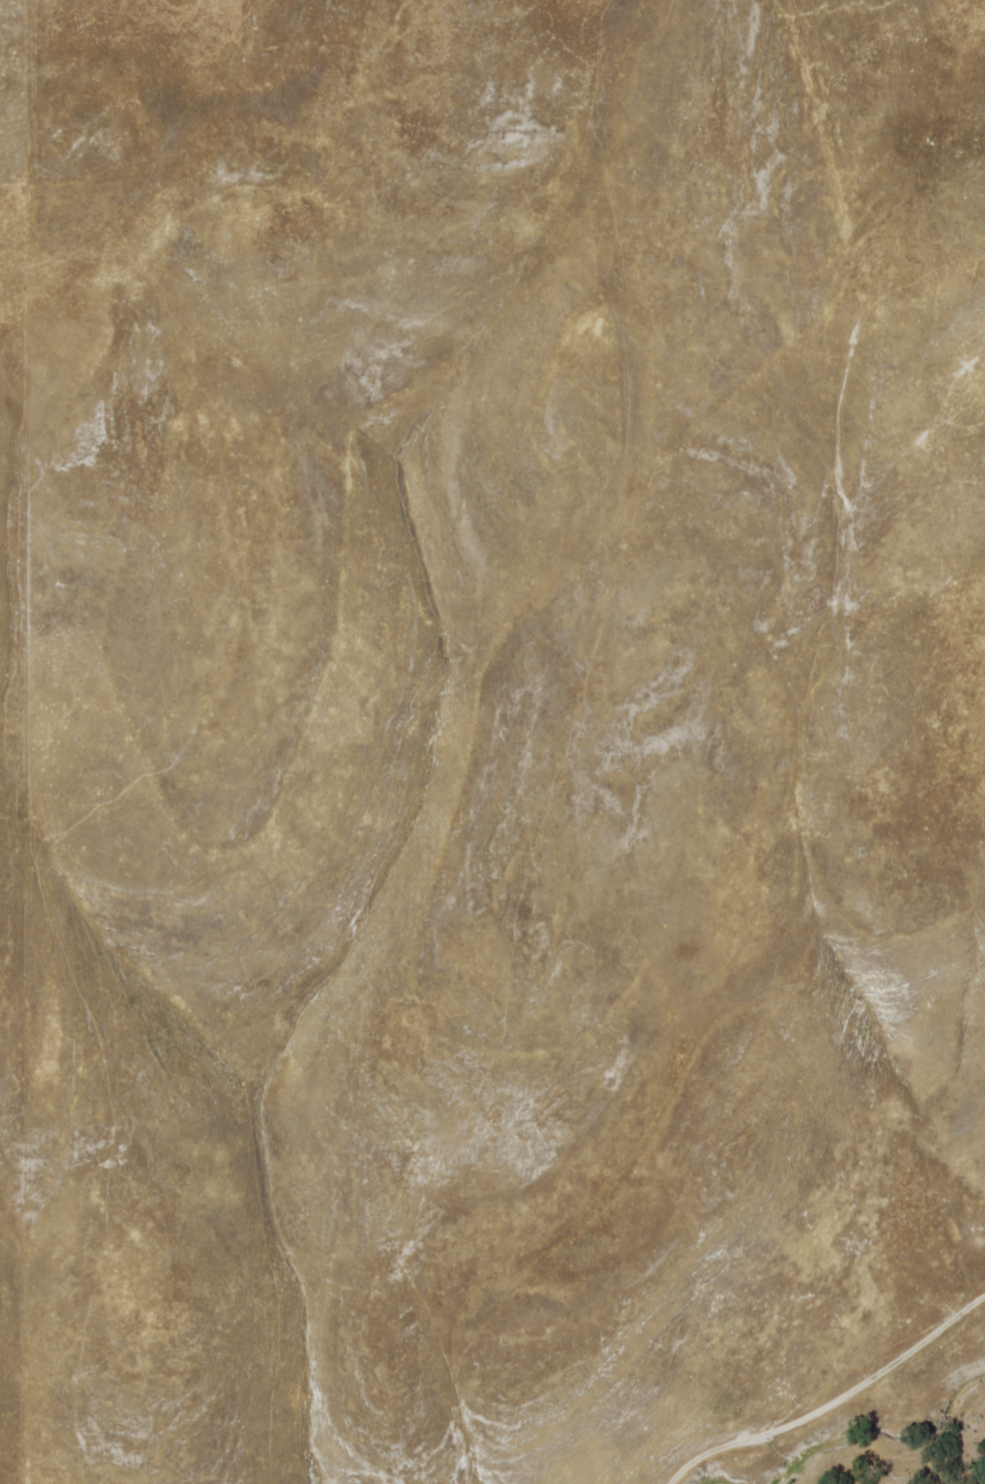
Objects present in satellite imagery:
road: (830, 1400)

